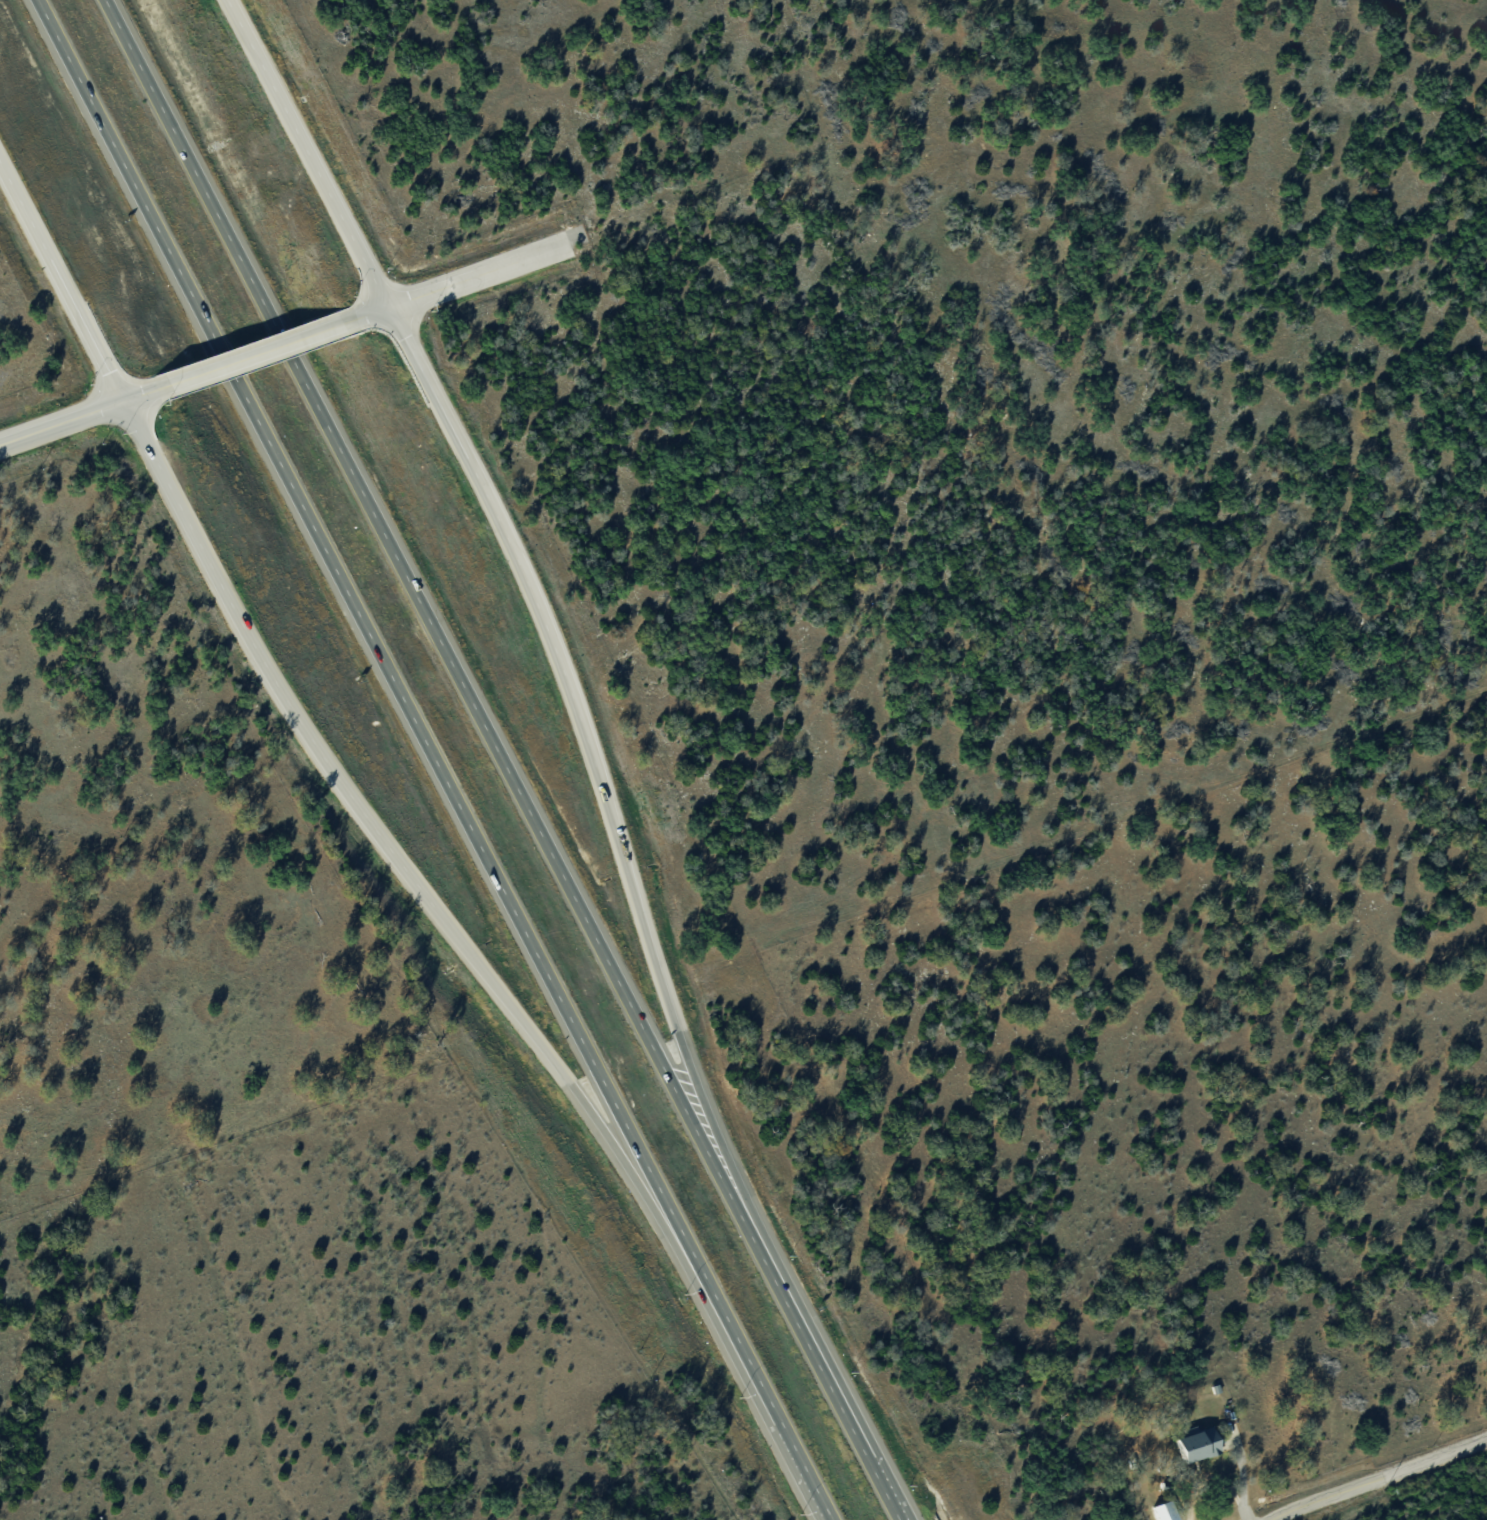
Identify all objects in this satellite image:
road: (307, 152)
road: (62, 282)
road: (363, 314)
road: (253, 354)
road: (83, 415)
road: (425, 612)
road: (362, 620)
road: (590, 755)
road: (380, 837)
road: (823, 1372)
road: (760, 1380)
building: (1193, 1443)
road: (1379, 1480)
building: (1162, 1511)

